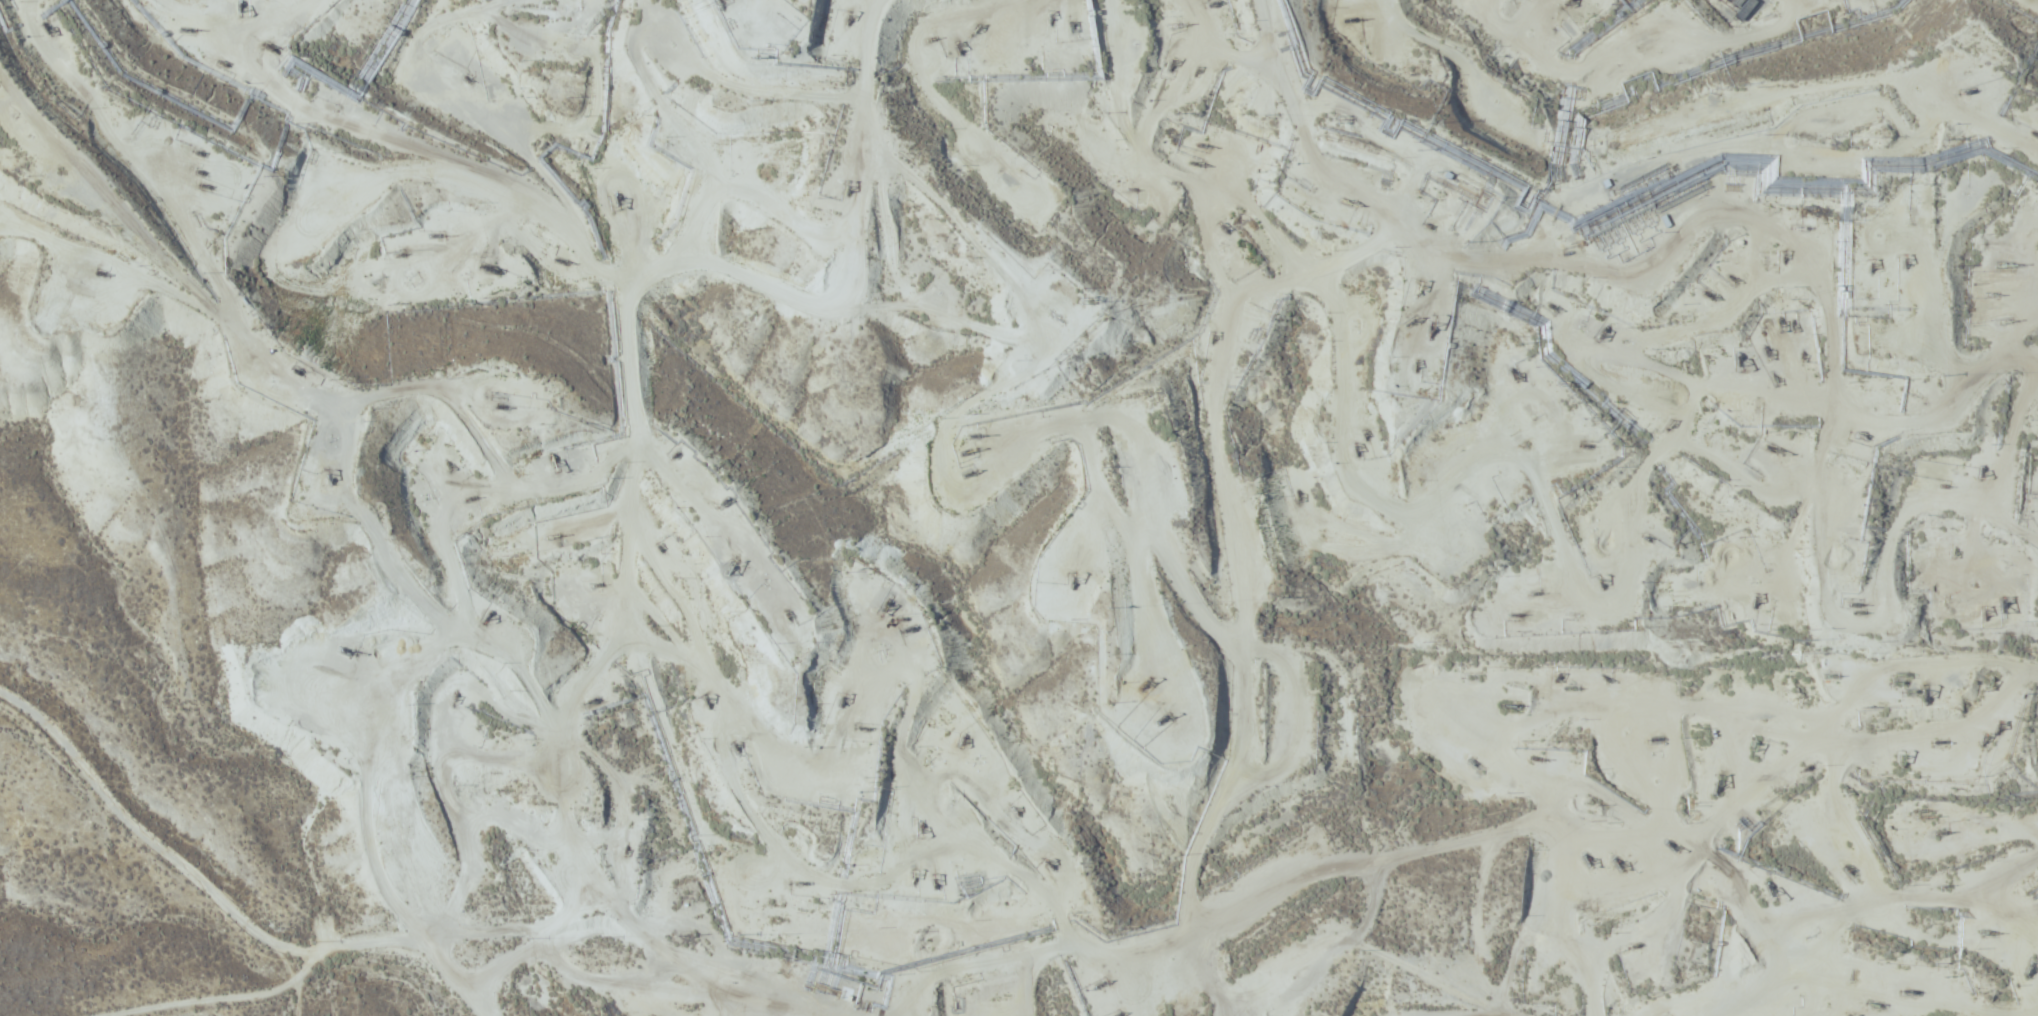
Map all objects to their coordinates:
building: (1757, 3)

